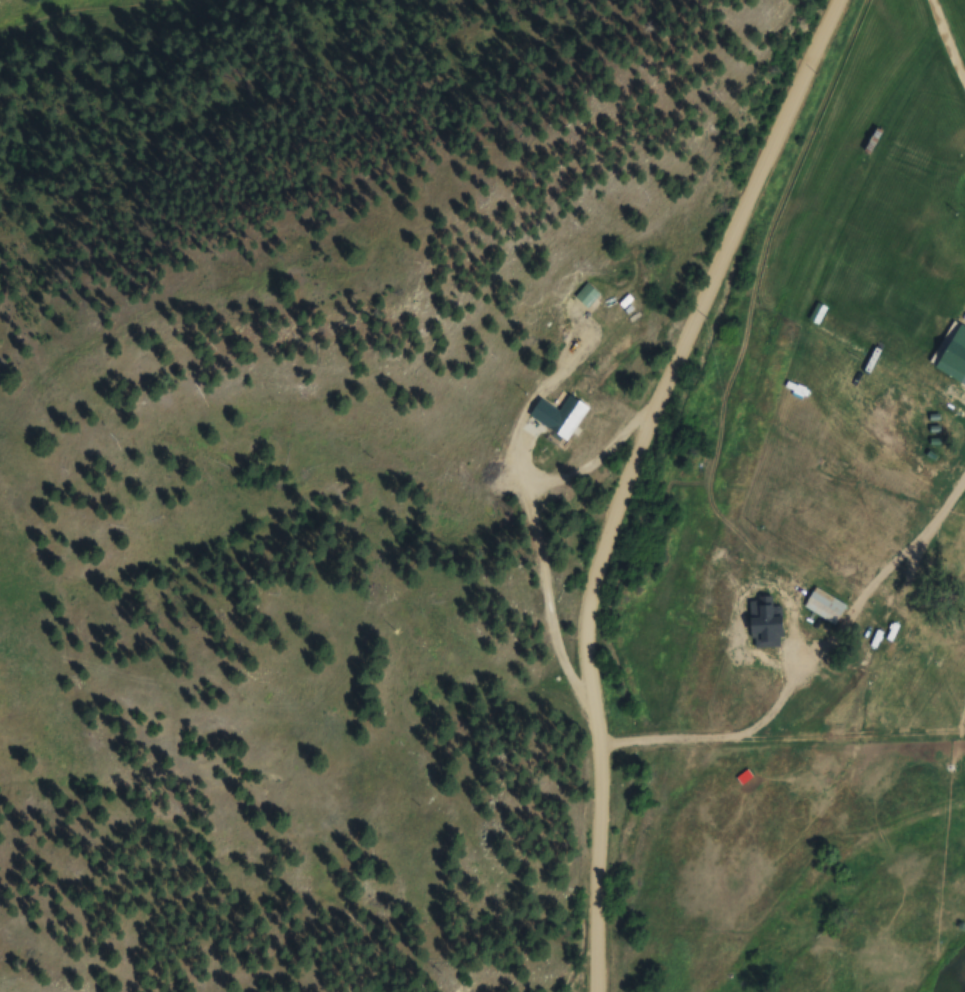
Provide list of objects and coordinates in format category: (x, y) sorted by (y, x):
building: (586, 295)
building: (964, 376)
building: (560, 415)
road: (626, 478)
building: (800, 591)
building: (888, 593)

